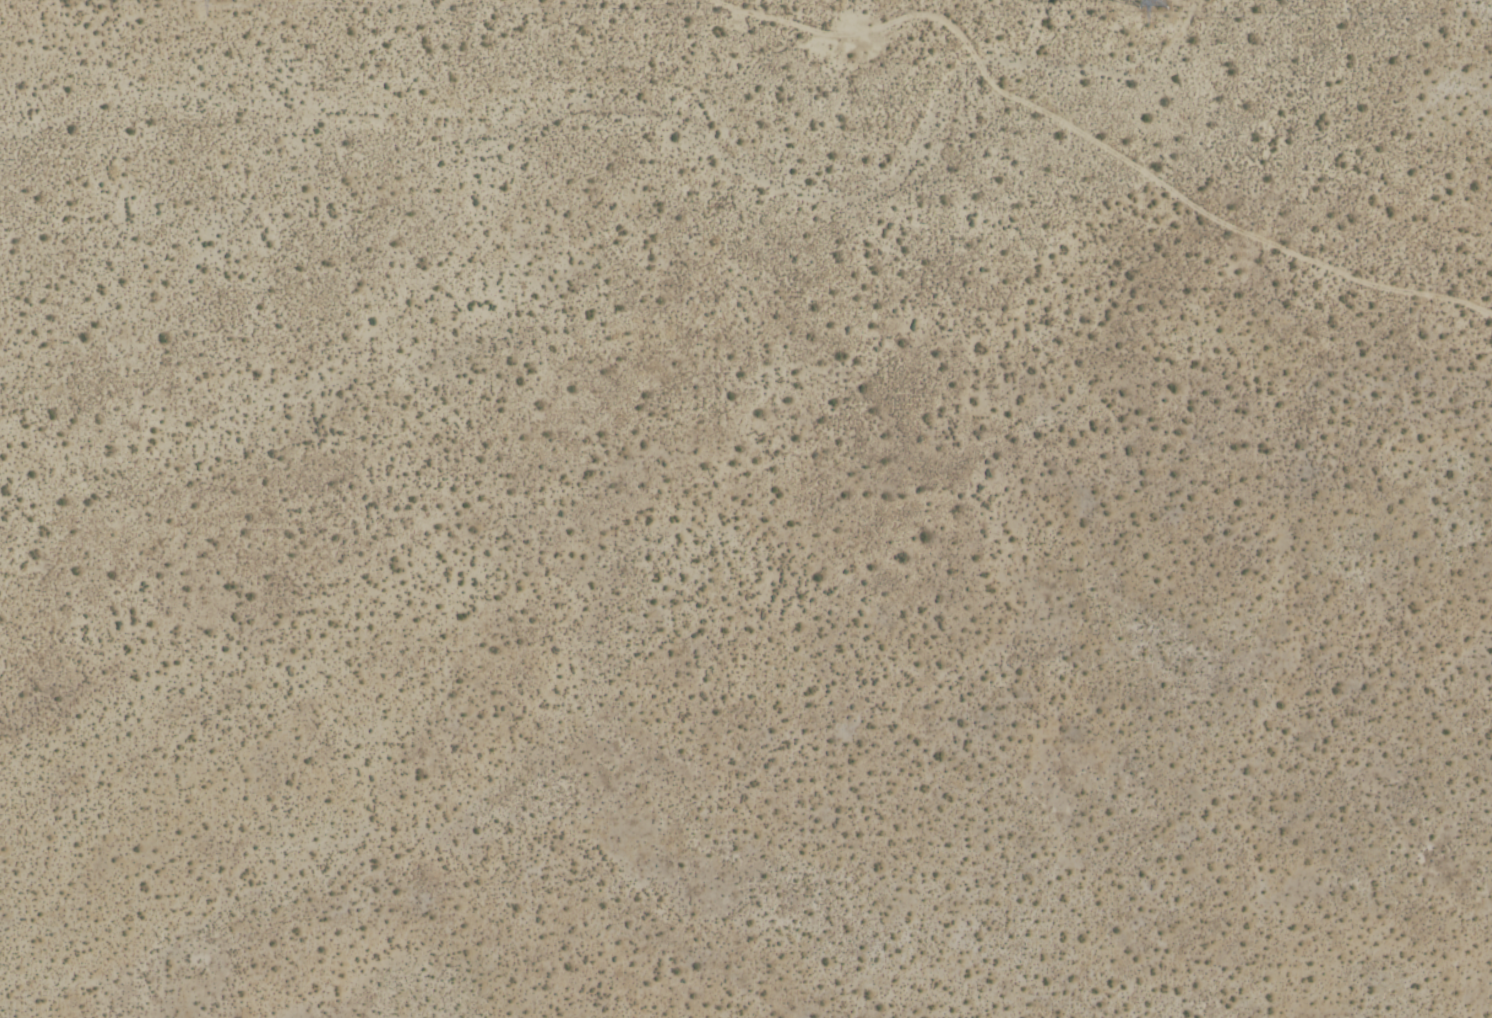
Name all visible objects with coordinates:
power tower: (1169, 2)

